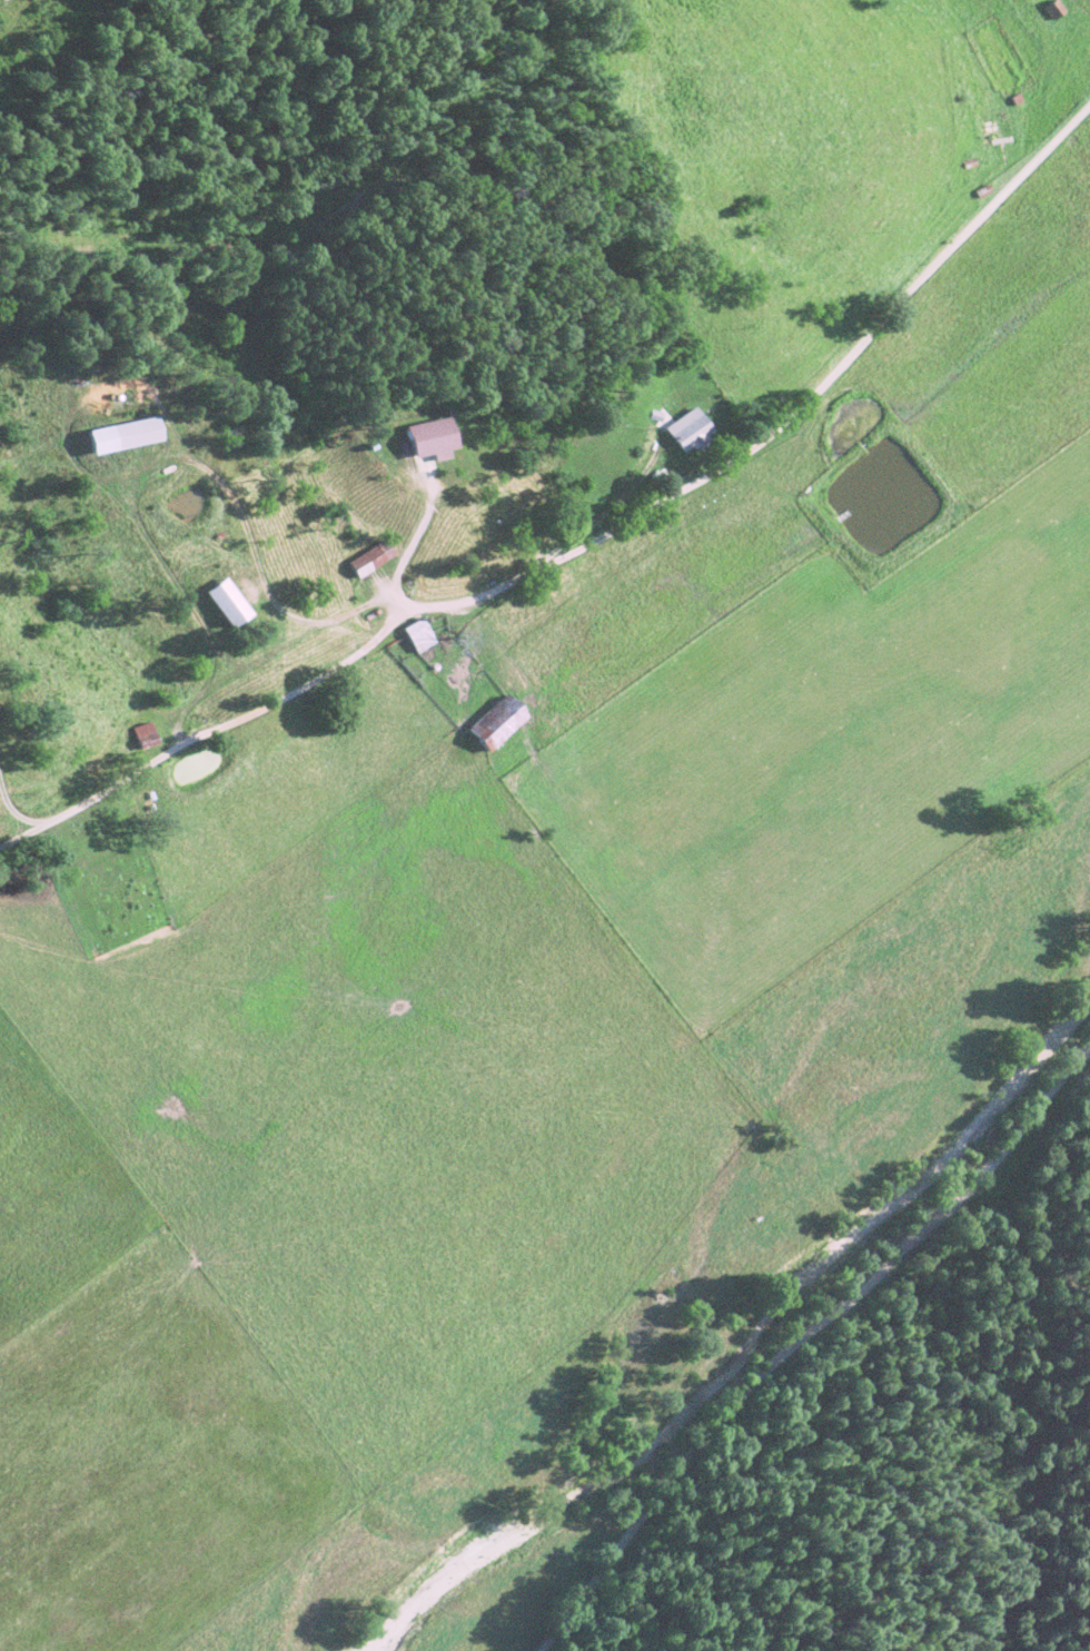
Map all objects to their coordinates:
building: (1051, 10)
building: (684, 433)
building: (115, 438)
building: (422, 442)
road: (589, 535)
building: (366, 561)
building: (217, 605)
building: (414, 637)
building: (492, 725)
road: (11, 813)
park: (107, 873)
road: (811, 1347)

